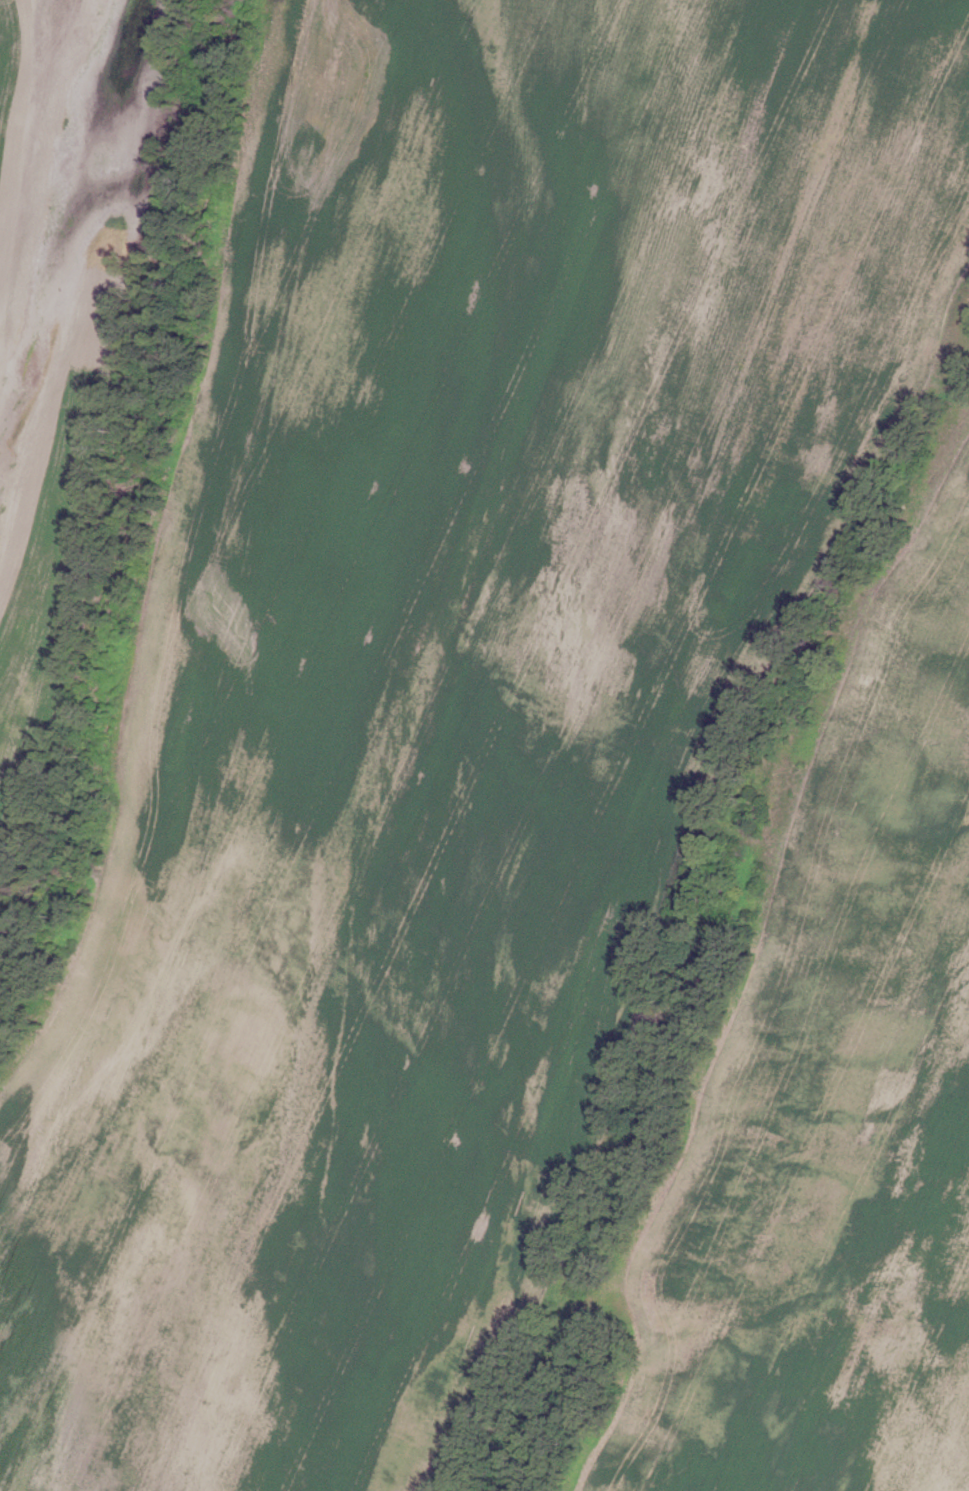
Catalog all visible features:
crop: (63, 337)
crop: (449, 691)
crop: (829, 1103)

